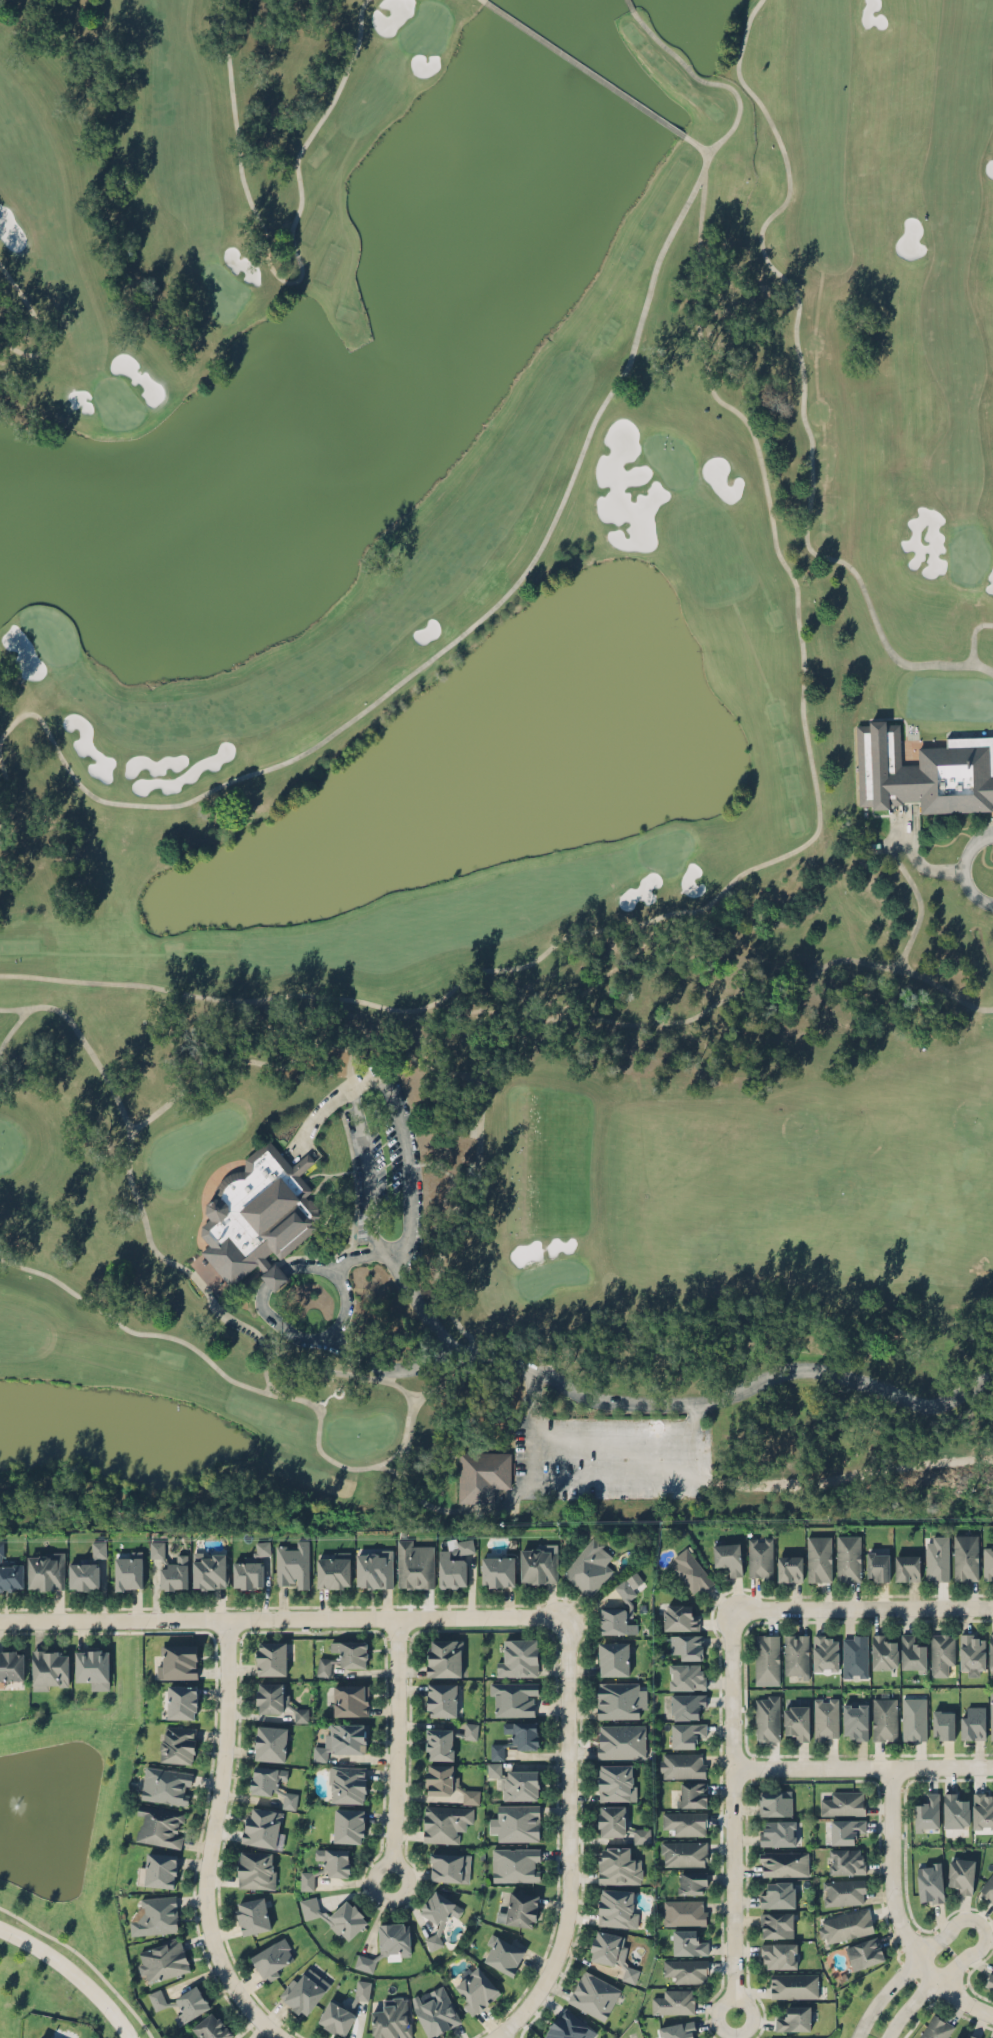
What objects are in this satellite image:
park: (496, 764)
building: (924, 771)
road: (902, 829)
road: (886, 845)
road: (964, 867)
road: (929, 868)
road: (322, 1105)
road: (405, 1162)
road: (369, 1169)
building: (258, 1215)
road: (360, 1255)
road: (344, 1289)
road: (418, 1303)
road: (390, 1369)
road: (726, 1395)
road: (611, 1437)
building: (482, 1474)
road: (592, 1479)
building: (157, 1548)
building: (1, 1549)
building: (728, 1557)
building: (937, 1557)
building: (966, 1557)
building: (760, 1558)
building: (819, 1558)
building: (848, 1558)
building: (987, 1562)
building: (414, 1564)
building: (454, 1564)
building: (292, 1565)
building: (538, 1565)
building: (373, 1566)
building: (589, 1566)
building: (877, 1566)
building: (906, 1566)
building: (86, 1568)
building: (250, 1568)
building: (789, 1568)
building: (209, 1569)
building: (333, 1569)
building: (45, 1570)
building: (497, 1570)
building: (128, 1571)
building: (690, 1571)
building: (174, 1573)
building: (11, 1576)
building: (624, 1589)
road: (861, 1607)
building: (679, 1616)
road: (281, 1619)
building: (615, 1621)
building: (686, 1645)
building: (990, 1649)
building: (350, 1652)
building: (825, 1652)
building: (883, 1652)
building: (941, 1652)
building: (795, 1653)
building: (912, 1653)
building: (971, 1653)
building: (855, 1655)
building: (271, 1657)
building: (443, 1657)
building: (613, 1657)
building: (766, 1657)
building: (519, 1658)
building: (177, 1660)
building: (11, 1664)
building: (323, 1665)
building: (92, 1666)
building: (49, 1669)
building: (687, 1676)
building: (272, 1697)
building: (514, 1697)
building: (442, 1698)
building: (350, 1699)
building: (619, 1699)
building: (181, 1701)
building: (687, 1704)
building: (991, 1712)
building: (301, 1715)
building: (766, 1717)
building: (826, 1718)
building: (884, 1718)
building: (914, 1718)
building: (796, 1721)
building: (855, 1721)
building: (943, 1723)
building: (973, 1723)
building: (470, 1729)
building: (523, 1733)
building: (686, 1734)
building: (341, 1739)
building: (621, 1741)
building: (270, 1742)
building: (439, 1742)
building: (178, 1743)
road: (396, 1750)
building: (497, 1750)
building: (682, 1764)
road: (861, 1768)
building: (447, 1781)
building: (515, 1782)
building: (614, 1782)
building: (346, 1783)
building: (166, 1784)
building: (272, 1784)
building: (692, 1793)
building: (775, 1802)
fountain: (11, 1803)
building: (842, 1803)
building: (983, 1809)
building: (954, 1811)
road: (730, 1812)
building: (927, 1812)
building: (685, 1821)
building: (445, 1822)
building: (518, 1822)
building: (620, 1823)
building: (348, 1824)
building: (159, 1825)
building: (261, 1826)
building: (845, 1830)
building: (776, 1832)
road: (566, 1840)
road: (207, 1841)
building: (683, 1853)
building: (334, 1861)
building: (846, 1861)
building: (783, 1863)
building: (516, 1864)
building: (449, 1866)
building: (618, 1866)
building: (255, 1869)
building: (157, 1870)
building: (961, 1874)
building: (307, 1879)
building: (691, 1881)
building: (929, 1882)
building: (987, 1887)
building: (844, 1891)
building: (776, 1894)
building: (439, 1907)
building: (615, 1907)
building: (519, 1908)
building: (684, 1911)
building: (154, 1915)
building: (252, 1915)
road: (893, 1915)
building: (337, 1916)
road: (966, 1920)
building: (776, 1924)
building: (845, 1925)
building: (433, 1940)
building: (687, 1941)
building: (386, 1943)
building: (605, 1947)
building: (503, 1952)
building: (864, 1952)
building: (778, 1954)
building: (272, 1958)
building: (163, 1959)
building: (686, 1969)
road: (73, 1973)
building: (629, 1973)
building: (989, 1978)
building: (793, 1985)
building: (362, 1989)
building: (475, 1989)
building: (305, 1990)
building: (593, 1994)
building: (157, 1998)
building: (674, 2001)
building: (190, 2004)
building: (435, 2010)
building: (336, 2017)
building: (391, 2018)
building: (793, 2018)
building: (569, 2026)
building: (211, 2027)
building: (936, 2028)
building: (678, 2030)
road: (632, 2035)
building: (52, 2036)
building: (969, 2036)
building: (40, 2037)
road: (491, 2037)
road: (492, 2037)
building: (956, 2037)

